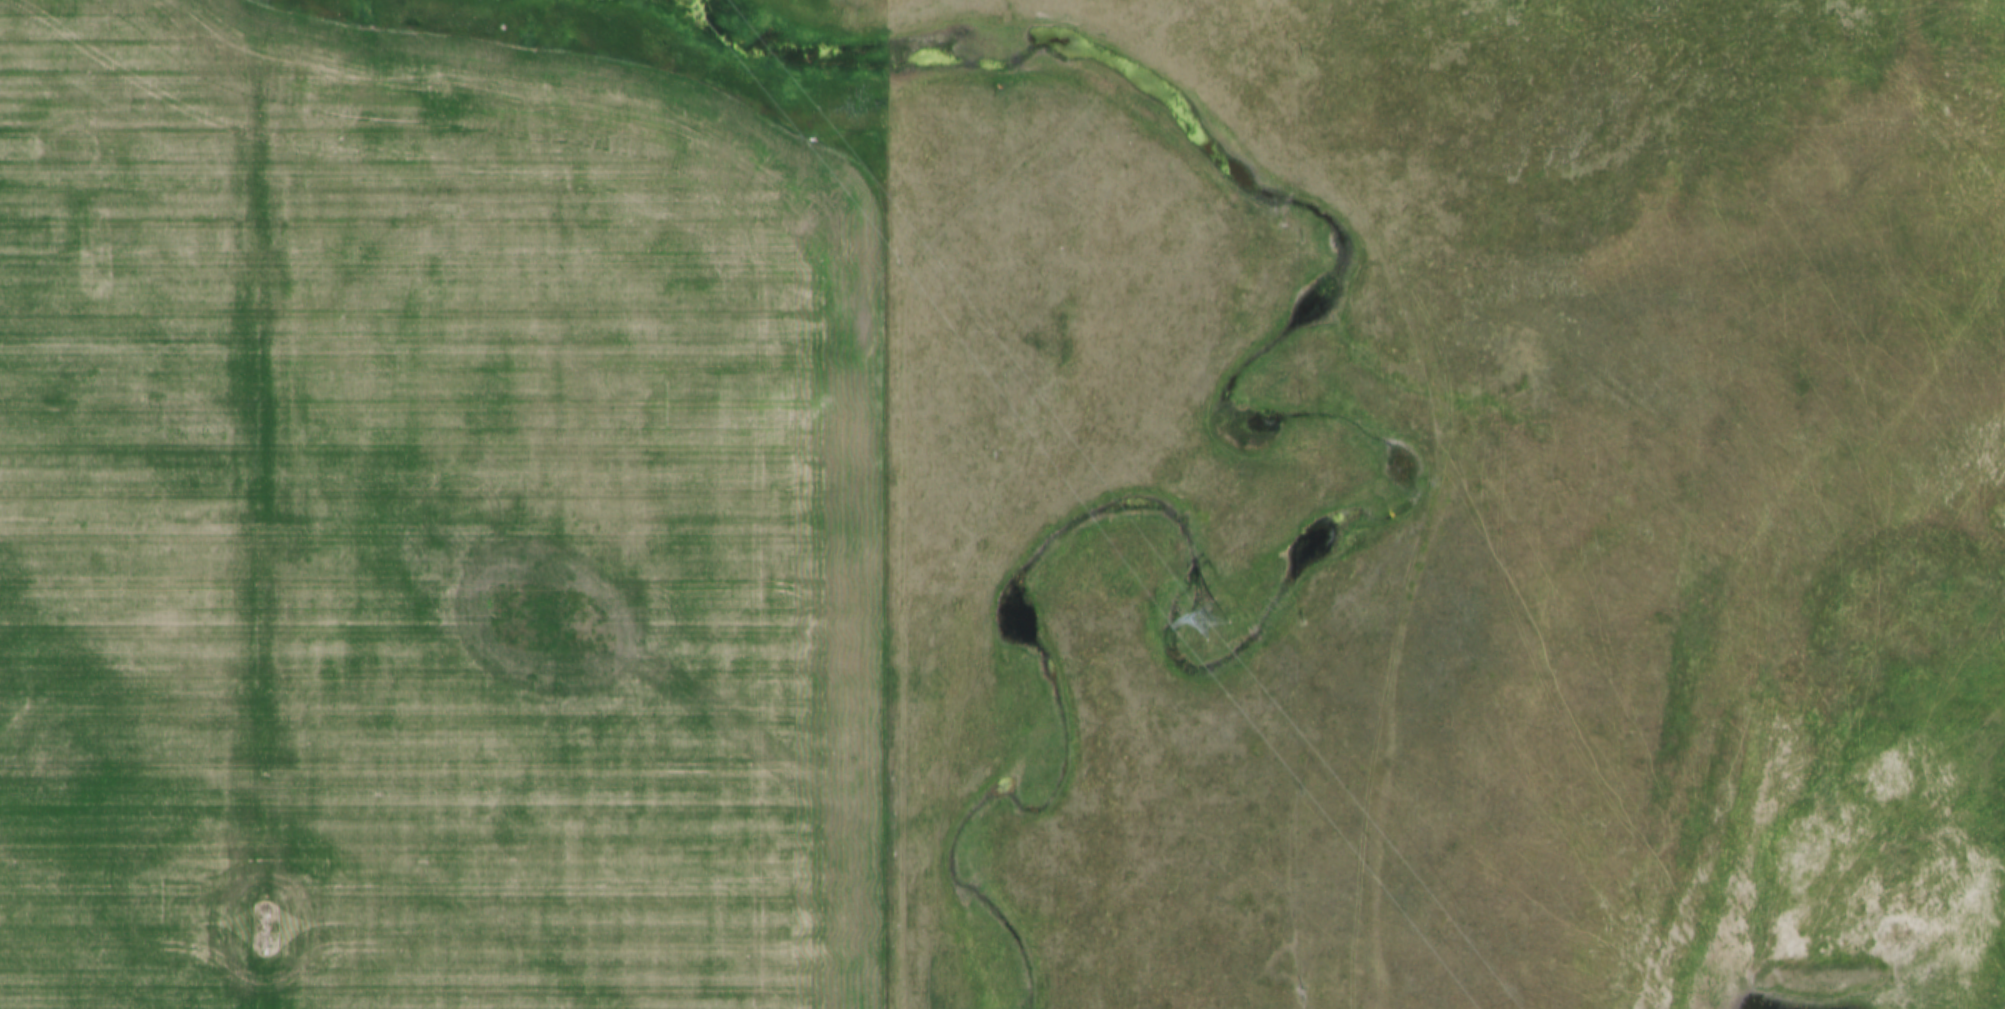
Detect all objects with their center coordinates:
road: (1443, 489)
power tower: (1218, 614)

